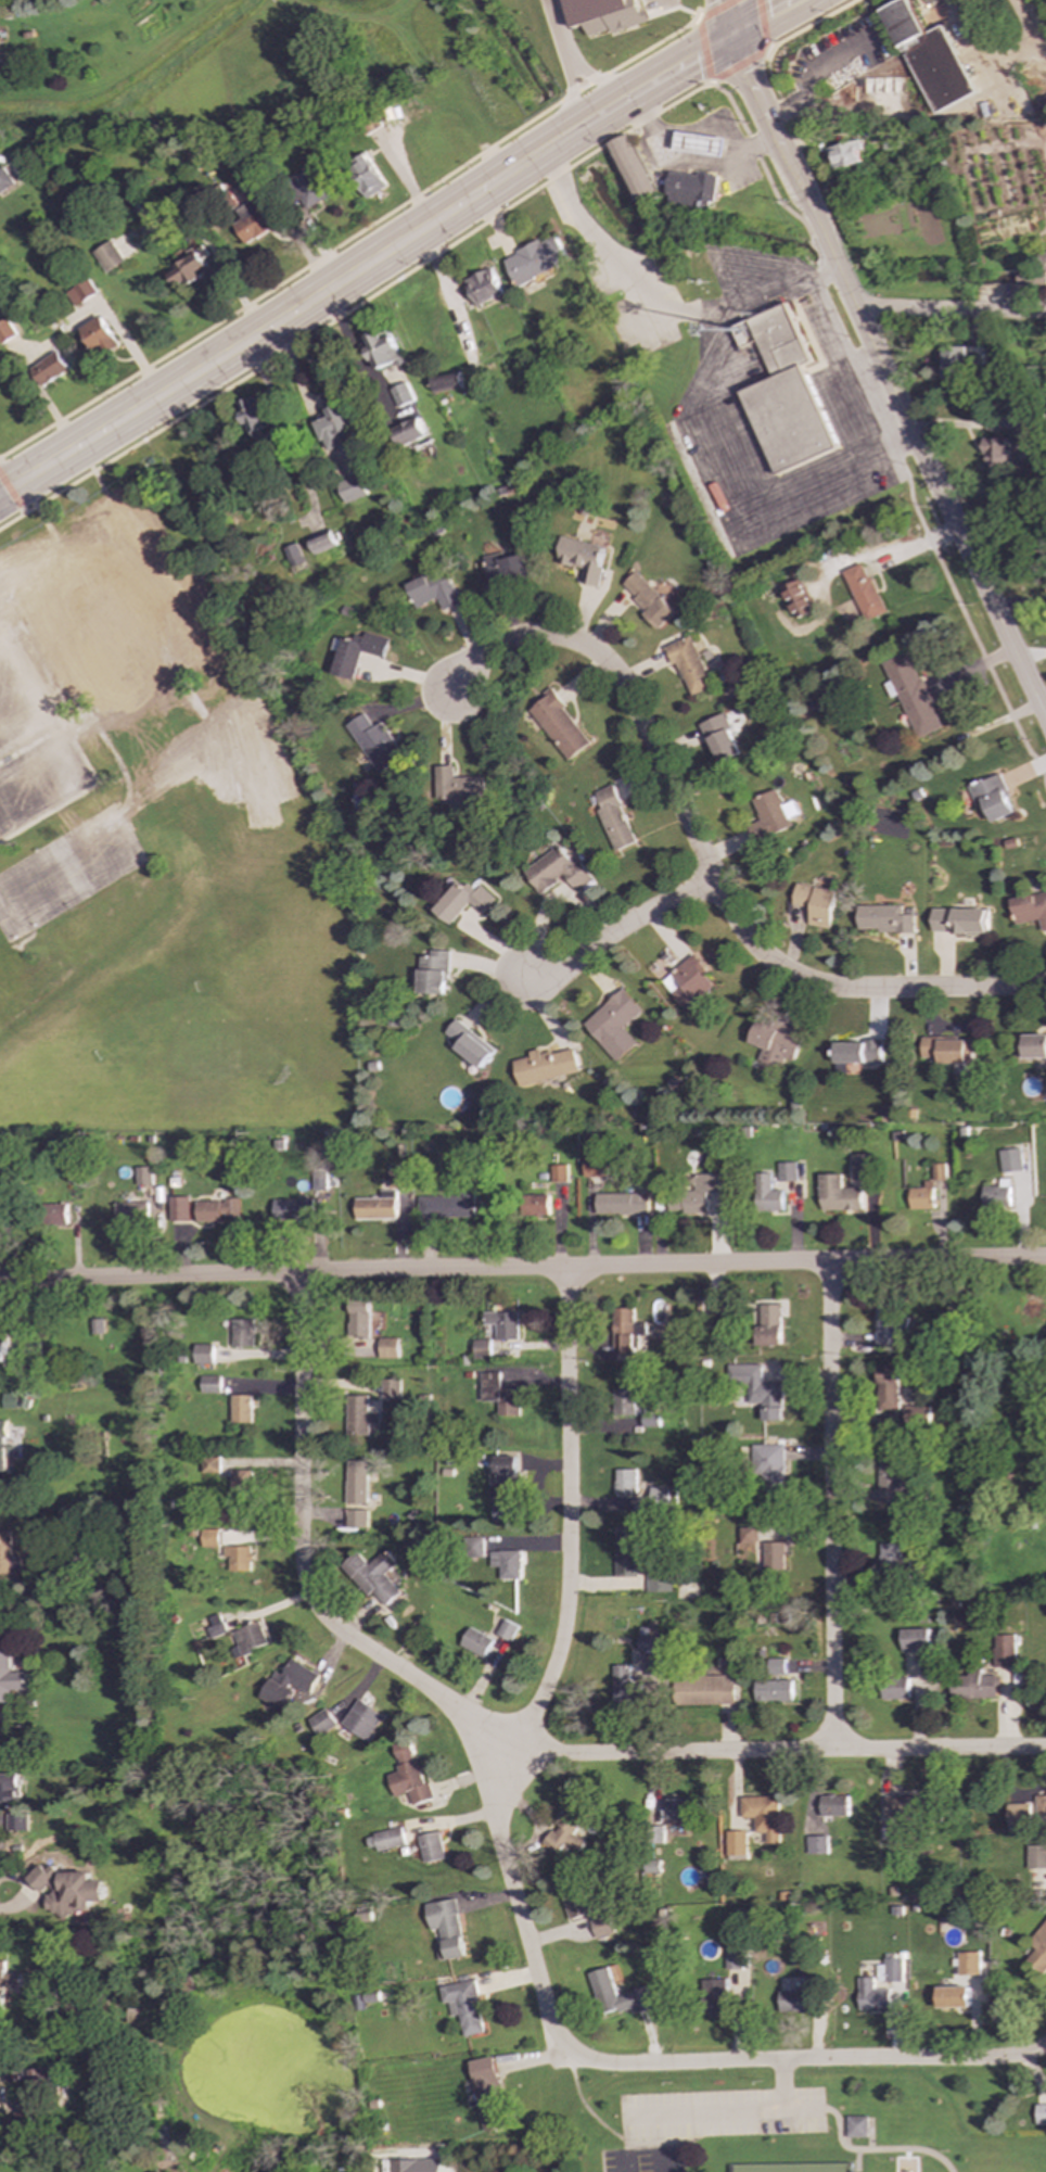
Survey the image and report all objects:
road: (800, 1)
road: (801, 1)
building: (603, 14)
road: (724, 18)
road: (763, 20)
road: (1030, 24)
road: (811, 25)
traffic signals: (730, 37)
road: (571, 59)
building: (930, 59)
road: (714, 79)
building: (1043, 101)
building: (700, 143)
building: (844, 154)
road: (758, 160)
road: (687, 162)
building: (630, 169)
building: (369, 177)
building: (3, 179)
building: (691, 188)
building: (309, 189)
building: (250, 220)
road: (349, 237)
road: (813, 246)
building: (106, 256)
building: (537, 259)
road: (366, 266)
building: (188, 270)
building: (1033, 272)
building: (483, 287)
building: (79, 292)
road: (353, 304)
road: (949, 308)
road: (649, 313)
building: (5, 331)
building: (98, 336)
building: (381, 350)
road: (857, 357)
building: (961, 361)
building: (48, 368)
road: (843, 368)
road: (885, 377)
building: (446, 383)
building: (783, 392)
building: (403, 395)
building: (252, 418)
building: (1022, 423)
building: (333, 428)
building: (408, 432)
building: (995, 453)
building: (353, 488)
road: (11, 495)
road: (737, 504)
road: (921, 528)
building: (323, 544)
building: (293, 555)
building: (584, 559)
building: (505, 569)
building: (42, 581)
building: (431, 589)
building: (864, 592)
building: (648, 599)
building: (798, 599)
building: (354, 652)
building: (689, 664)
road: (11, 693)
building: (910, 694)
road: (34, 706)
building: (558, 725)
building: (722, 738)
building: (373, 742)
road: (72, 775)
building: (455, 785)
building: (992, 797)
building: (768, 817)
building: (614, 818)
road: (704, 859)
building: (554, 872)
road: (545, 900)
building: (461, 901)
building: (815, 903)
building: (1030, 909)
building: (883, 919)
building: (959, 922)
road: (616, 929)
building: (432, 973)
building: (686, 982)
building: (612, 1025)
building: (773, 1043)
building: (469, 1044)
building: (1031, 1046)
building: (946, 1050)
building: (857, 1052)
building: (544, 1066)
building: (1009, 1160)
building: (597, 1166)
building: (863, 1168)
building: (787, 1171)
building: (939, 1171)
building: (558, 1173)
building: (141, 1176)
building: (318, 1180)
building: (394, 1180)
building: (696, 1194)
building: (766, 1194)
building: (838, 1194)
building: (995, 1195)
building: (922, 1197)
building: (0, 1204)
building: (621, 1204)
building: (535, 1205)
building: (375, 1207)
building: (445, 1207)
building: (177, 1209)
building: (215, 1210)
building: (292, 1210)
building: (128, 1212)
building: (52, 1215)
road: (522, 1268)
building: (357, 1318)
building: (501, 1324)
building: (768, 1324)
building: (890, 1325)
building: (624, 1331)
building: (241, 1333)
building: (386, 1348)
building: (1, 1349)
building: (481, 1349)
building: (202, 1354)
building: (208, 1384)
building: (888, 1387)
building: (388, 1389)
building: (757, 1389)
building: (498, 1395)
building: (624, 1400)
building: (240, 1408)
building: (916, 1414)
building: (358, 1415)
building: (3, 1451)
building: (208, 1464)
building: (767, 1465)
building: (891, 1476)
building: (503, 1478)
building: (239, 1482)
building: (355, 1482)
building: (624, 1482)
building: (661, 1496)
road: (830, 1507)
building: (503, 1512)
road: (566, 1512)
building: (356, 1519)
building: (747, 1535)
building: (209, 1538)
building: (474, 1547)
building: (626, 1551)
building: (4, 1552)
building: (773, 1555)
building: (238, 1558)
building: (889, 1558)
building: (506, 1564)
building: (373, 1577)
building: (659, 1579)
building: (215, 1626)
building: (507, 1630)
building: (248, 1639)
building: (915, 1640)
building: (475, 1642)
building: (1005, 1651)
building: (650, 1654)
building: (776, 1666)
building: (9, 1674)
building: (288, 1684)
building: (972, 1685)
building: (624, 1687)
building: (894, 1689)
building: (706, 1690)
building: (774, 1691)
building: (362, 1719)
building: (321, 1722)
road: (493, 1733)
building: (409, 1775)
road: (652, 1782)
building: (9, 1787)
building: (1039, 1805)
building: (833, 1806)
building: (675, 1808)
building: (905, 1811)
building: (762, 1815)
building: (1017, 1817)
building: (17, 1821)
building: (564, 1833)
building: (386, 1840)
building: (737, 1843)
building: (817, 1845)
building: (432, 1846)
building: (1035, 1857)
building: (67, 1890)
building: (574, 1898)
road: (9, 1906)
building: (601, 1926)
building: (446, 1929)
building: (1038, 1948)
building: (734, 1956)
building: (967, 1964)
building: (889, 1969)
building: (4, 1980)
building: (617, 1995)
building: (870, 1995)
building: (951, 1997)
building: (796, 1998)
building: (463, 2005)
road: (651, 2043)
road: (647, 2065)
building: (37, 2086)
road: (779, 2088)
building: (488, 2093)
road: (583, 2113)
building: (1039, 2113)
park: (773, 2114)
road: (717, 2120)
parking lot: (718, 2120)
building: (20, 2126)
building: (856, 2126)
road: (868, 2155)
park: (645, 2162)
building: (405, 2165)
building: (780, 2168)

